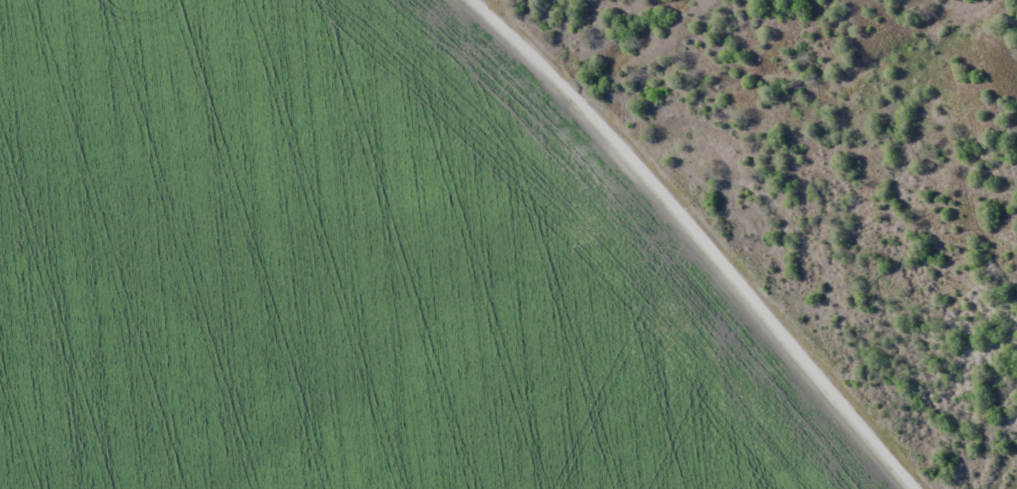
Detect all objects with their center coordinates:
road: (701, 222)

